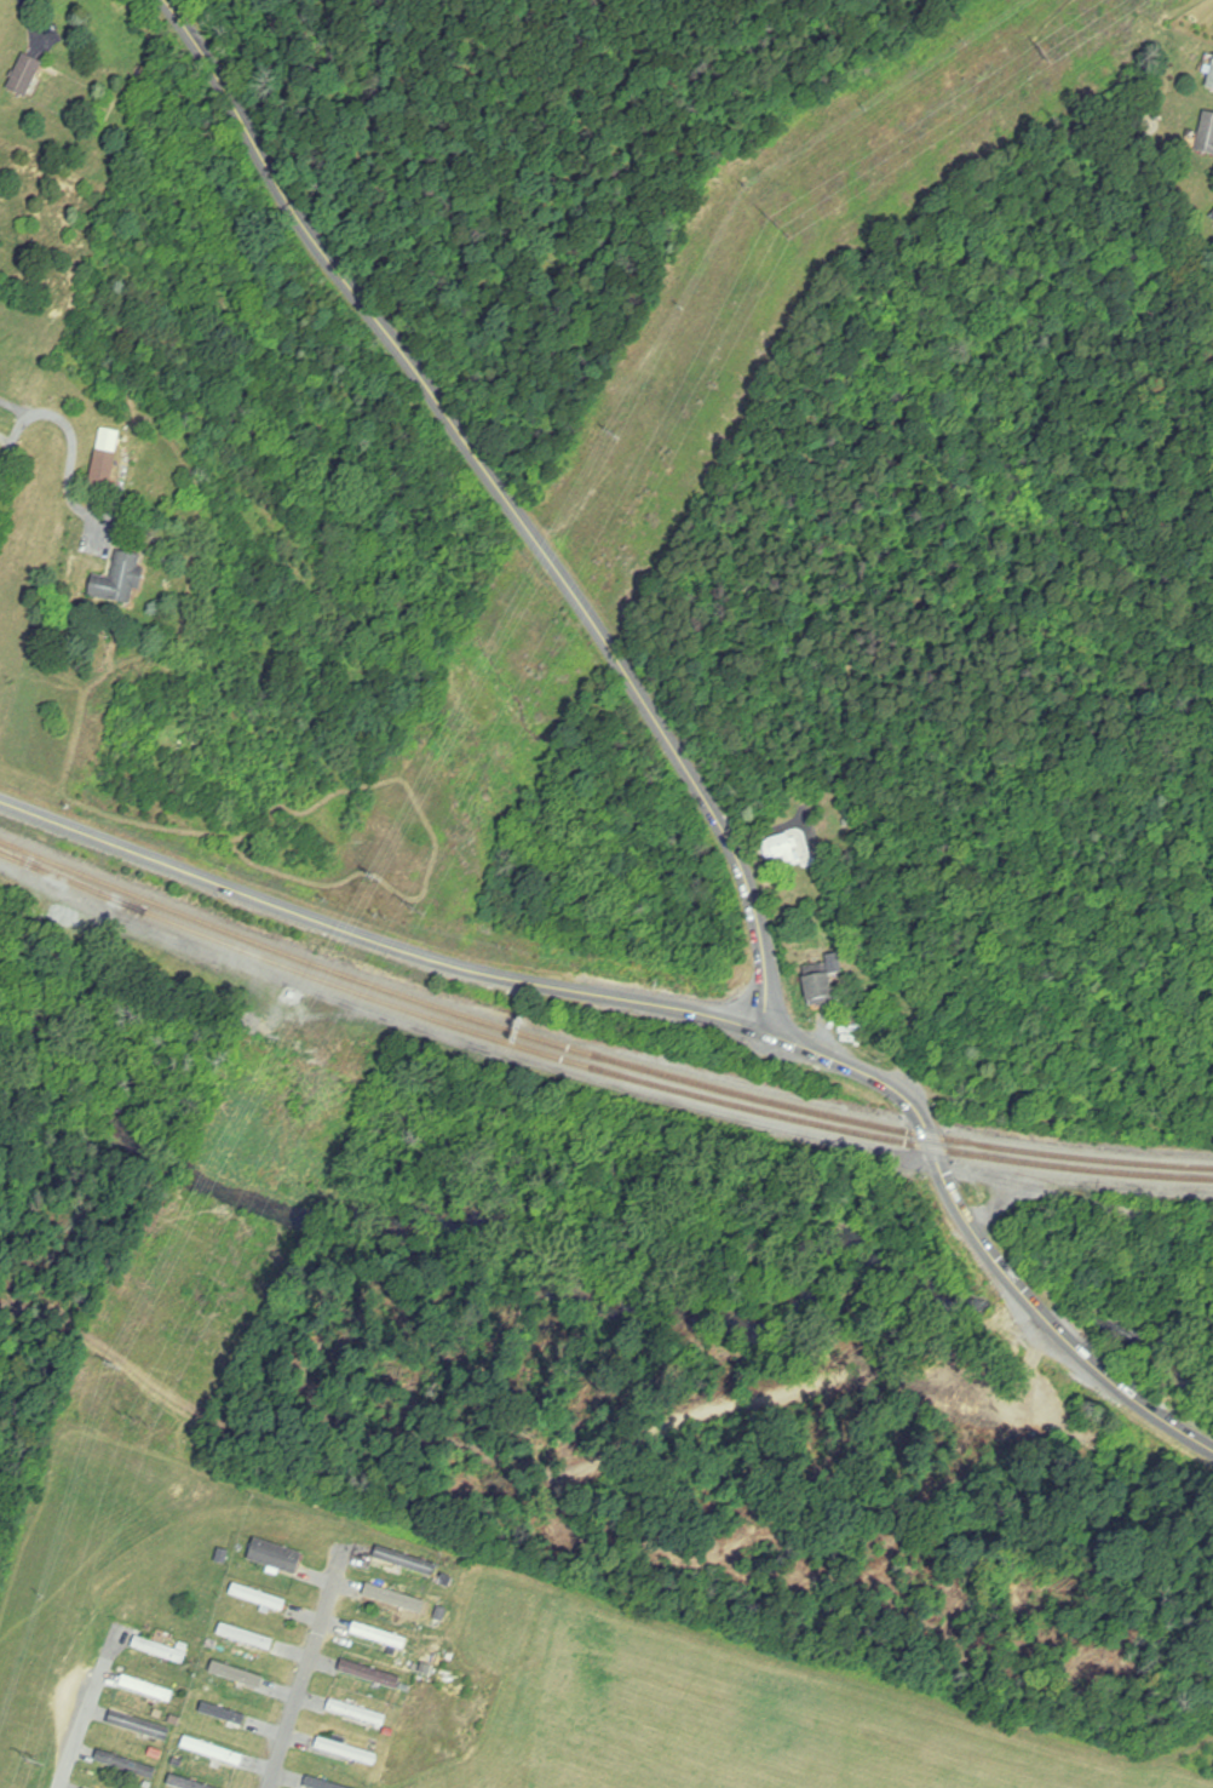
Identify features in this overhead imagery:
power tower: (1050, 56)
building: (24, 76)
building: (1211, 79)
building: (1207, 134)
building: (1212, 214)
power tower: (778, 228)
road: (8, 436)
road: (15, 447)
road: (74, 462)
building: (103, 470)
road: (507, 498)
building: (119, 580)
building: (782, 850)
railway: (71, 876)
railway: (71, 879)
power tower: (408, 909)
building: (822, 982)
road: (570, 988)
railway: (593, 1053)
railway: (667, 1087)
road: (1087, 1200)
road: (1051, 1318)
road: (1134, 1396)
power tower: (133, 1420)
building: (275, 1555)
building: (407, 1558)
building: (258, 1597)
building: (396, 1598)
building: (246, 1637)
building: (379, 1637)
building: (160, 1650)
road: (310, 1667)
building: (240, 1675)
building: (370, 1675)
building: (146, 1689)
road: (91, 1704)
building: (357, 1713)
building: (223, 1714)
building: (140, 1726)
building: (212, 1752)
building: (346, 1752)
power tower: (27, 1764)
building: (126, 1765)
building: (184, 1783)
building: (318, 1783)

